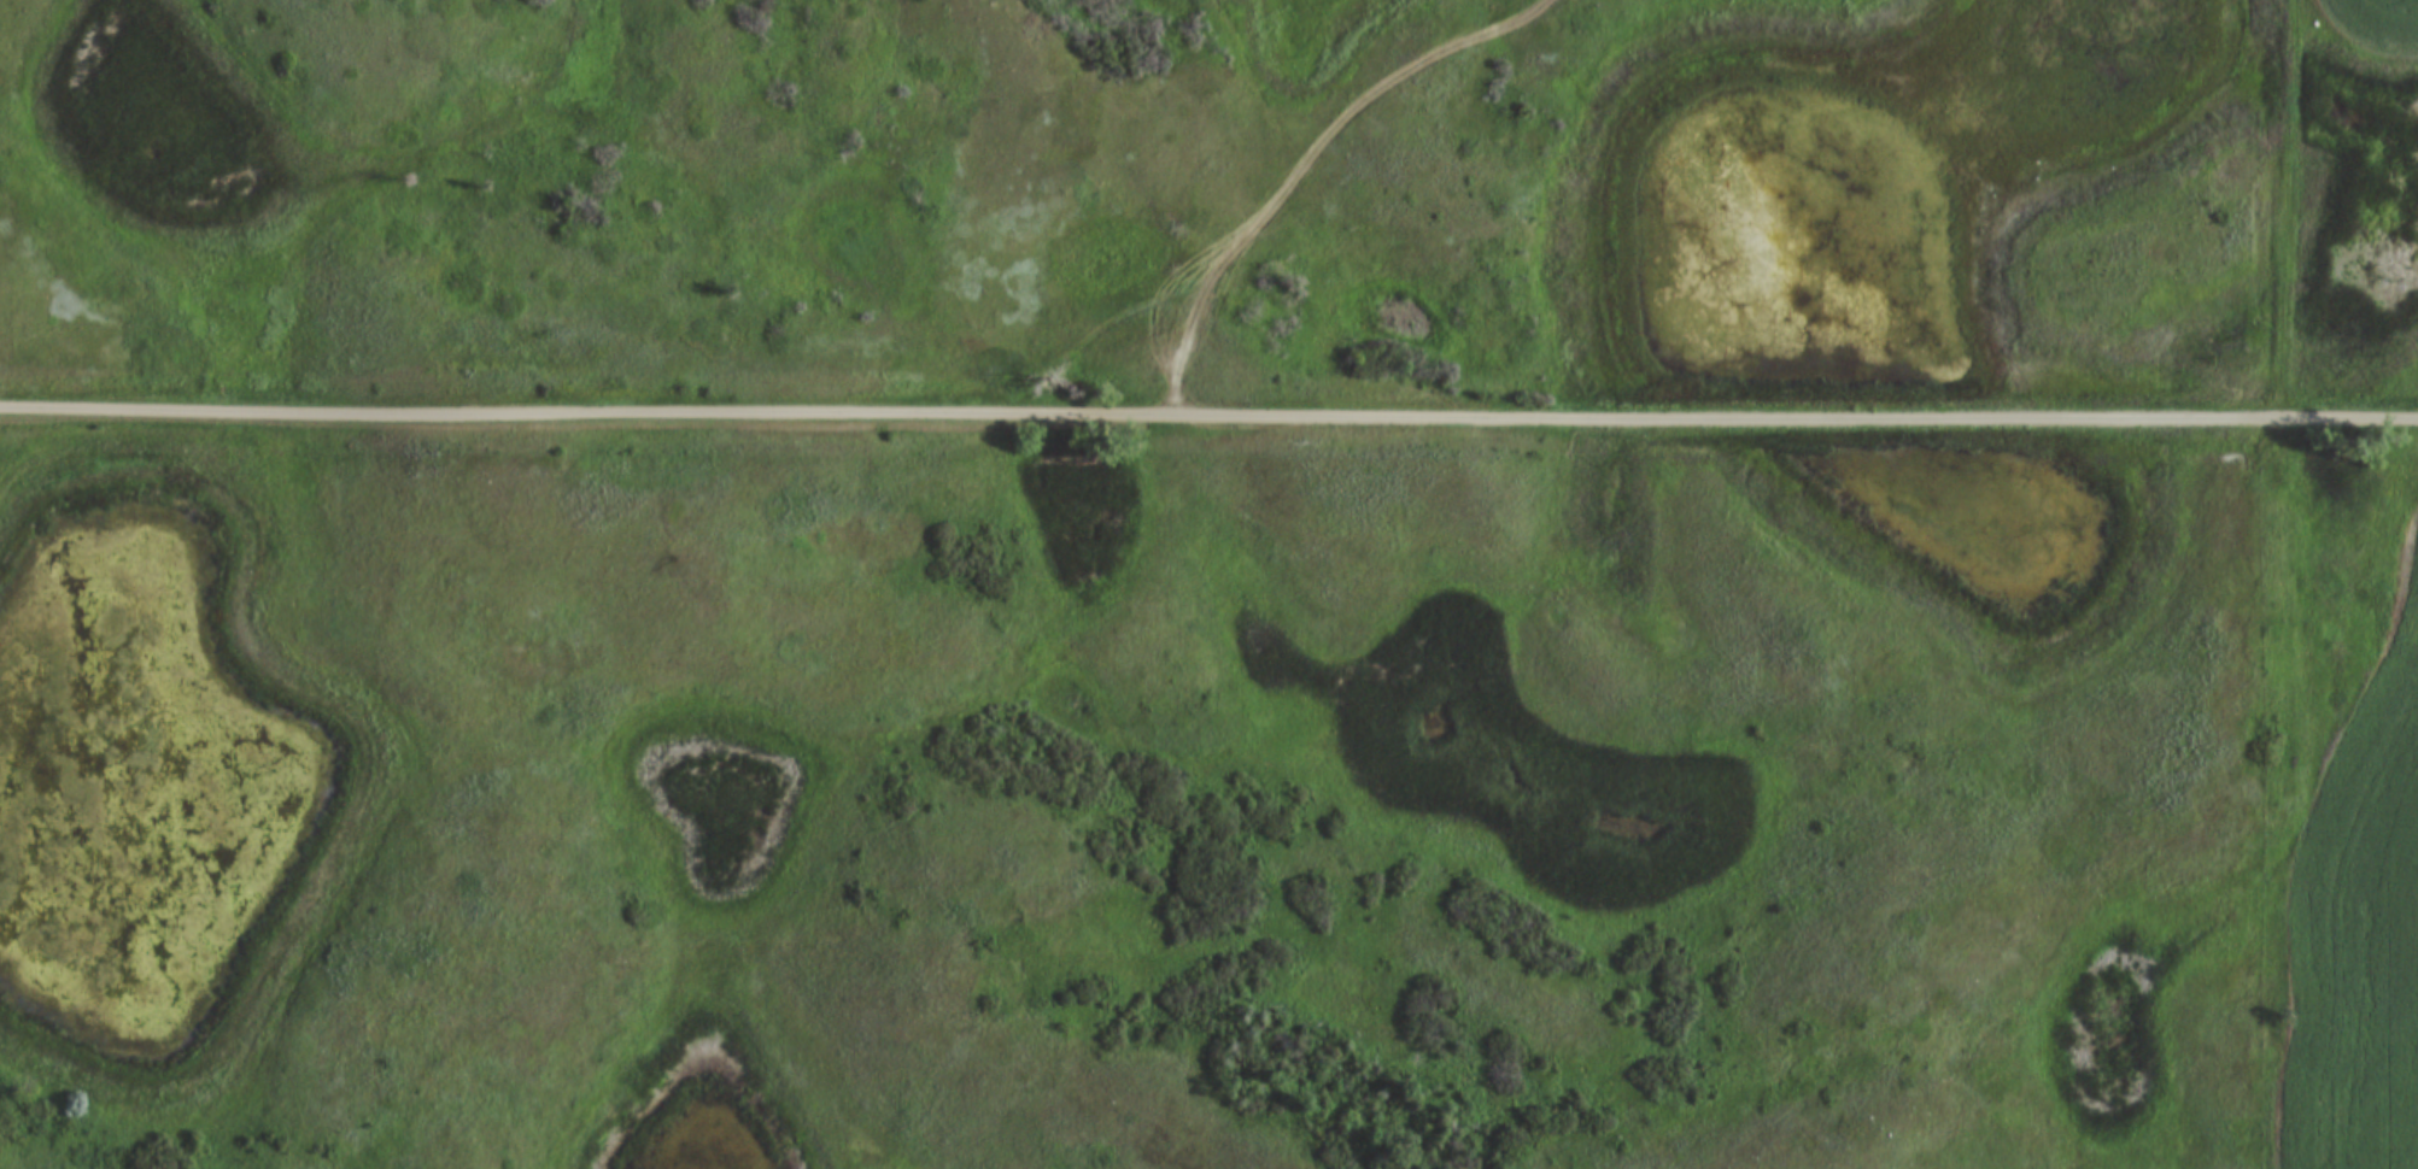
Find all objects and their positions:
road: (1261, 208)
road: (1208, 416)

